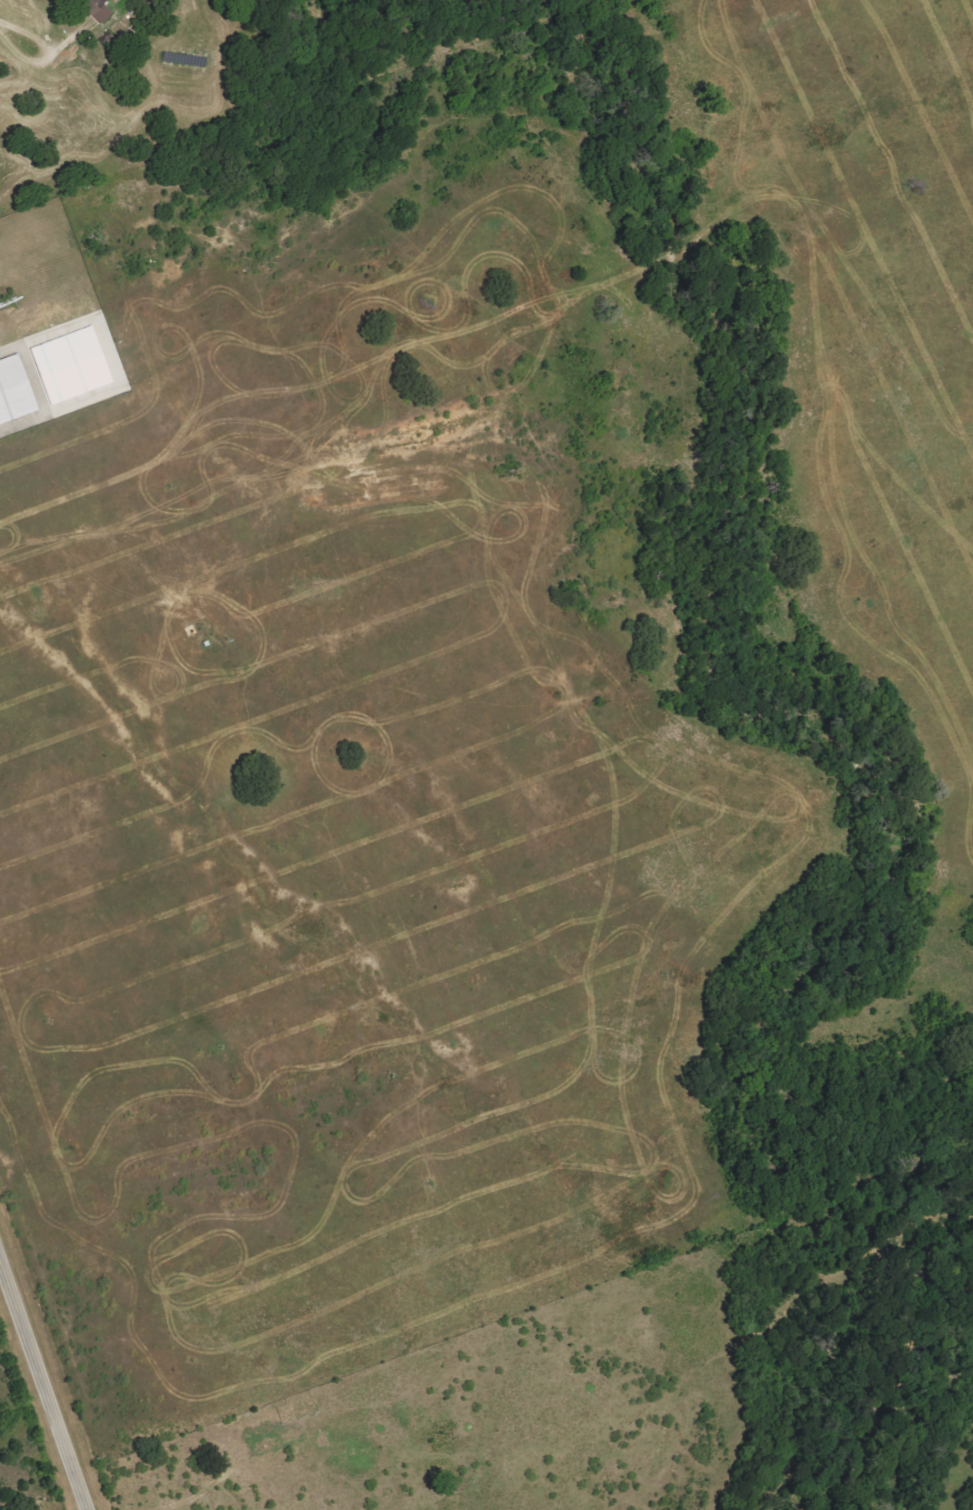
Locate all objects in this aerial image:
road: (28, 32)
road: (9, 349)
building: (74, 365)
building: (16, 391)
road: (44, 1384)

